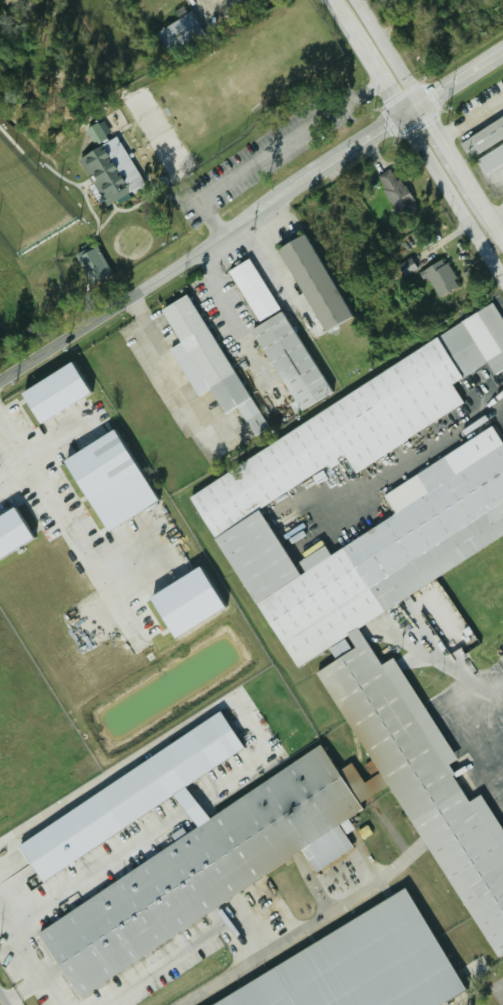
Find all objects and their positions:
road: (206, 3)
building: (175, 31)
road: (389, 53)
road: (364, 60)
road: (463, 81)
traffic signals: (438, 97)
traffic signals: (392, 106)
road: (412, 114)
traffic signals: (436, 128)
road: (457, 130)
building: (95, 132)
traffic signals: (387, 132)
building: (481, 135)
park: (161, 150)
road: (270, 152)
road: (353, 153)
road: (456, 161)
building: (108, 172)
road: (497, 186)
building: (393, 192)
road: (452, 201)
road: (264, 210)
road: (498, 218)
road: (496, 225)
road: (213, 244)
building: (89, 264)
building: (405, 268)
building: (438, 277)
building: (309, 282)
road: (234, 313)
road: (101, 315)
building: (275, 339)
road: (167, 358)
building: (202, 359)
building: (49, 393)
road: (423, 453)
building: (104, 480)
road: (64, 516)
building: (9, 532)
building: (181, 603)
road: (476, 693)
road: (182, 726)
road: (485, 739)
building: (133, 794)
road: (196, 809)
building: (201, 870)
road: (100, 871)
road: (323, 916)
road: (194, 943)
road: (32, 964)
building: (361, 964)
road: (226, 977)
road: (49, 990)
road: (1, 1001)

